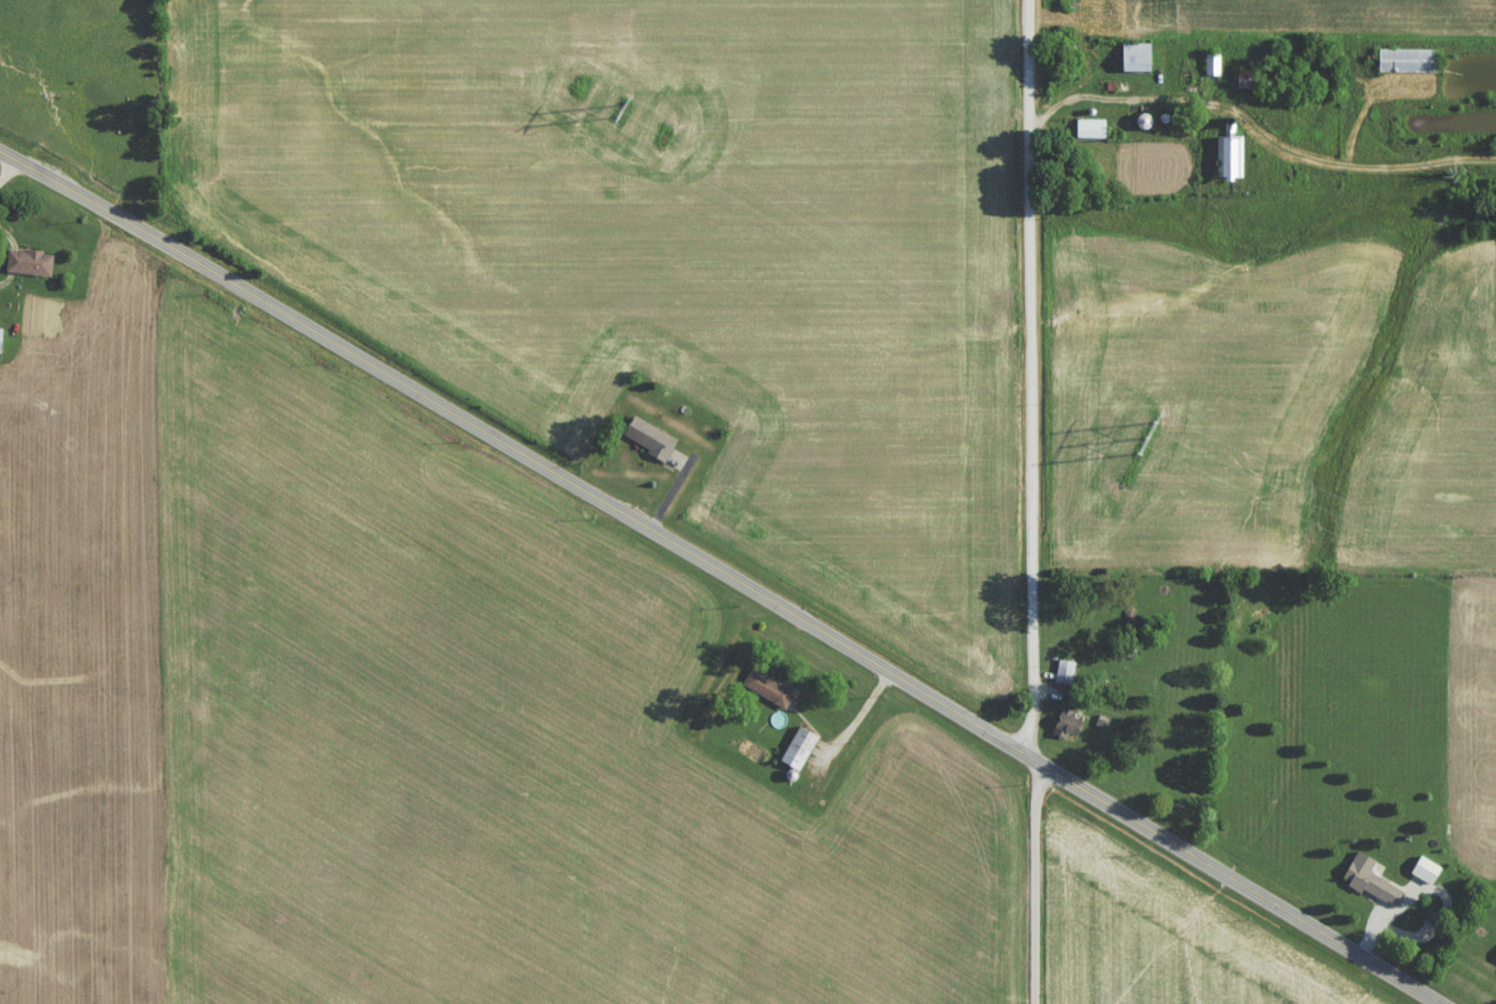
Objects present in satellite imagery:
building: (1137, 62)
building: (1407, 65)
building: (1212, 69)
building: (1248, 83)
road: (1118, 99)
power tower: (618, 115)
building: (1142, 126)
building: (1090, 133)
building: (1229, 160)
road: (10, 170)
building: (29, 267)
building: (1, 344)
power tower: (1146, 442)
building: (649, 443)
road: (1031, 502)
road: (728, 569)
building: (1063, 676)
building: (768, 692)
building: (1067, 729)
building: (796, 754)
building: (1371, 885)
building: (1494, 965)

